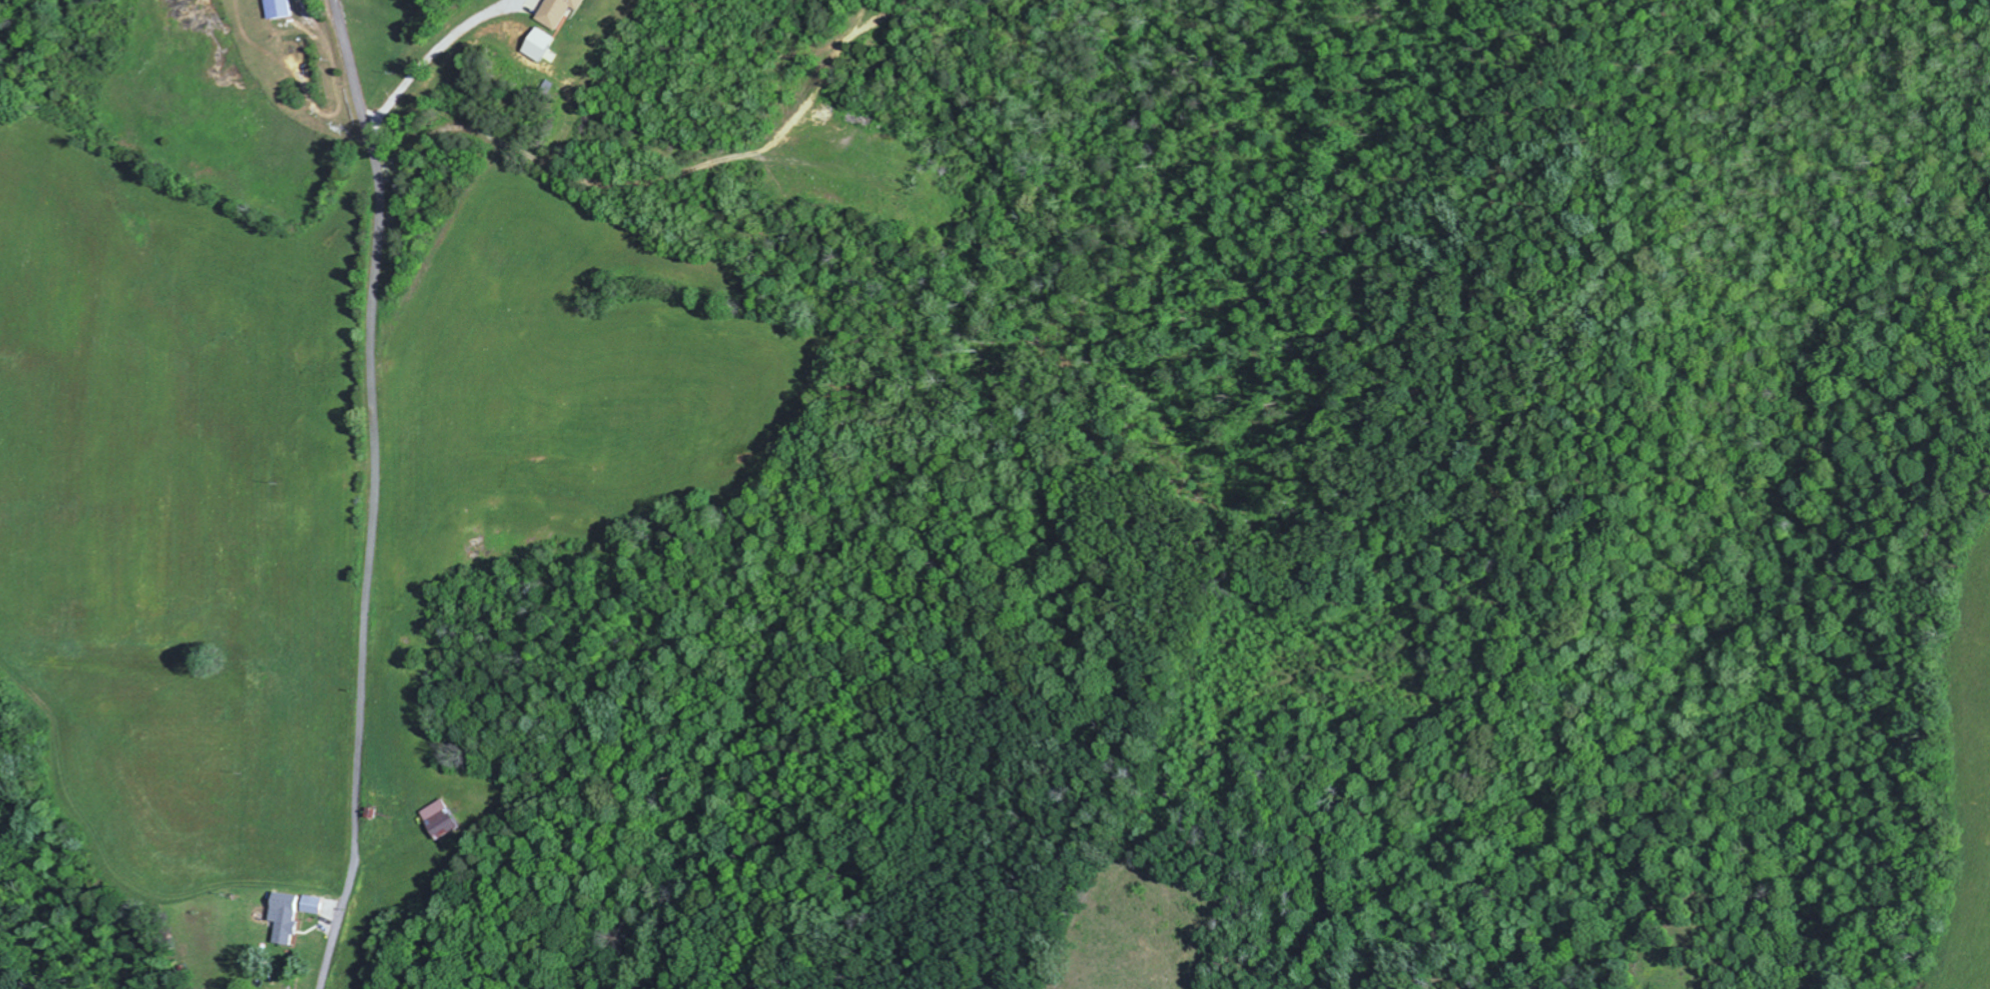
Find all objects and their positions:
building: (282, 9)
building: (563, 11)
building: (546, 46)
road: (375, 493)
building: (450, 818)
building: (318, 904)
building: (290, 916)

